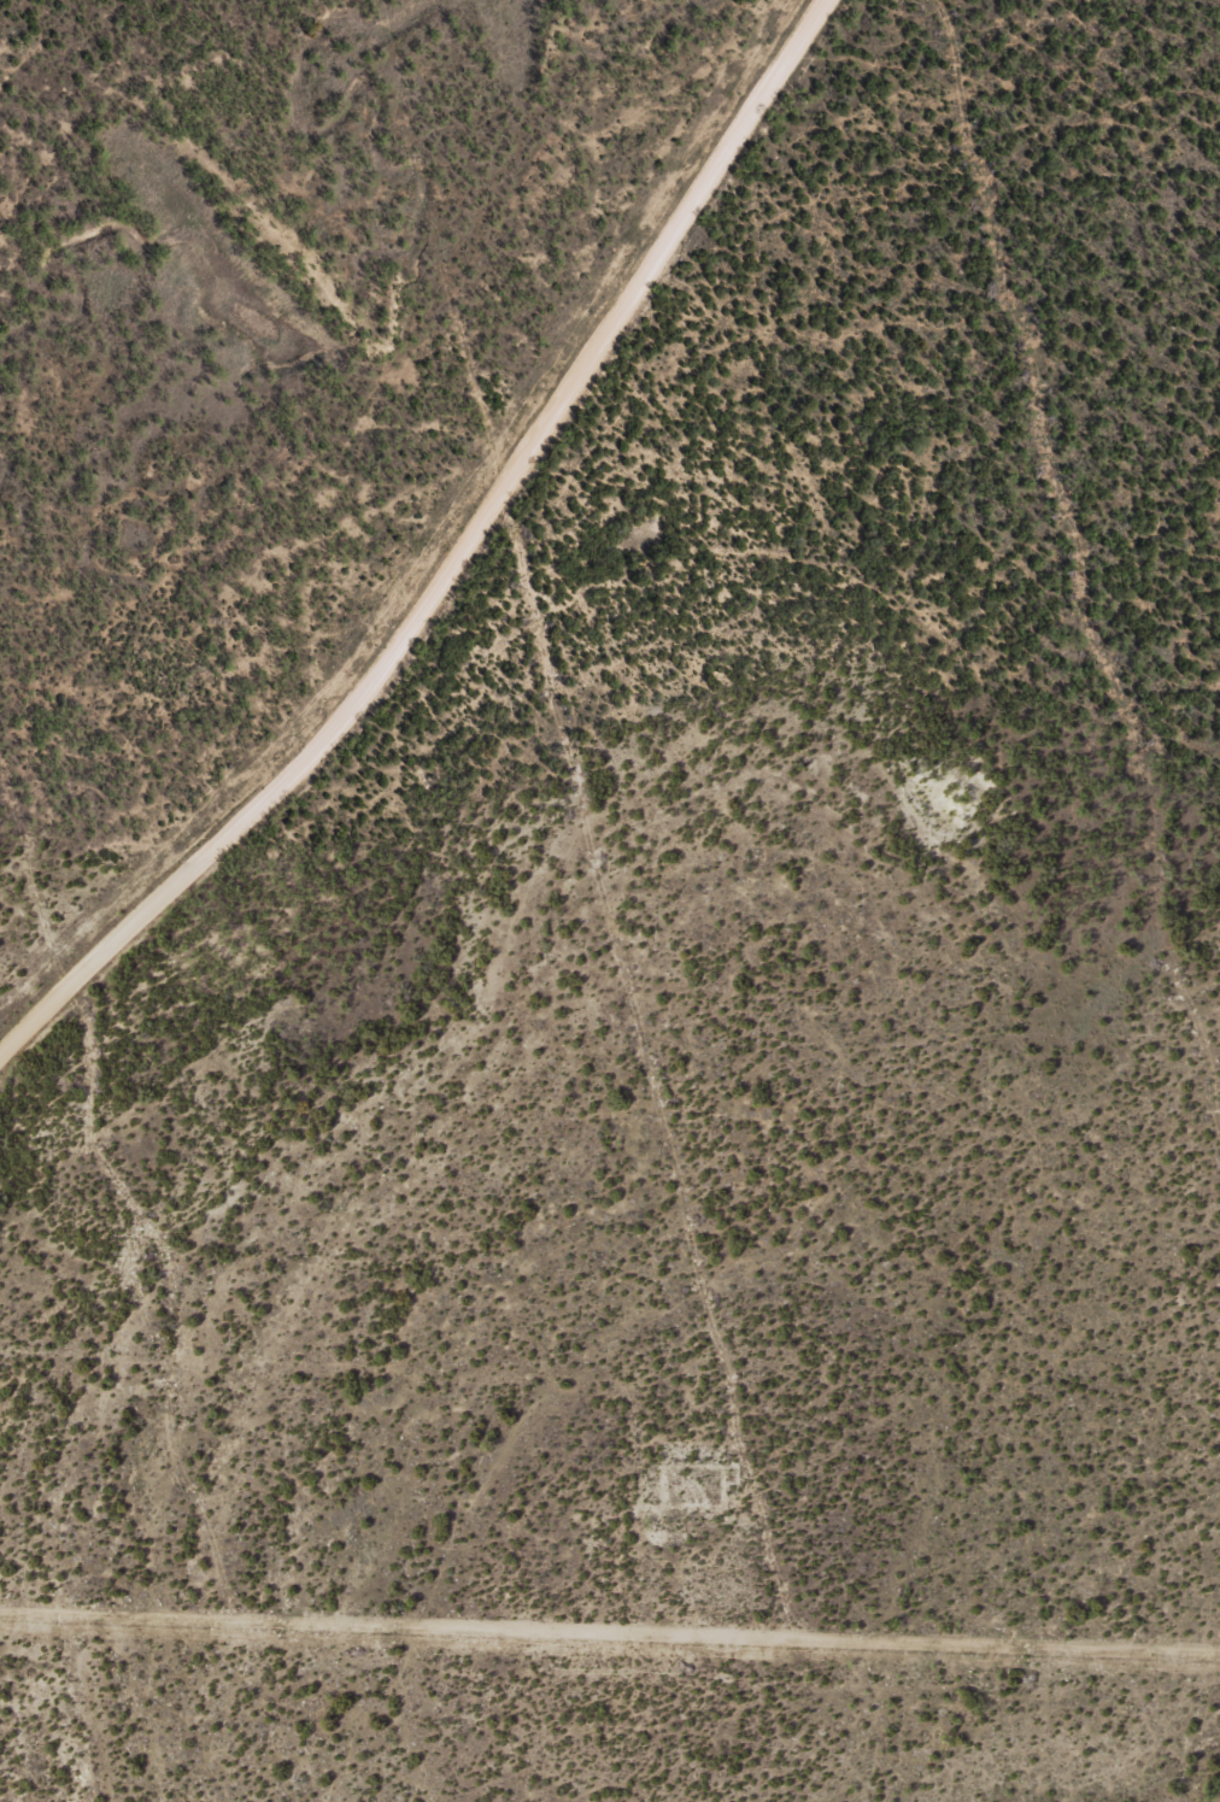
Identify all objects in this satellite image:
road: (469, 571)

